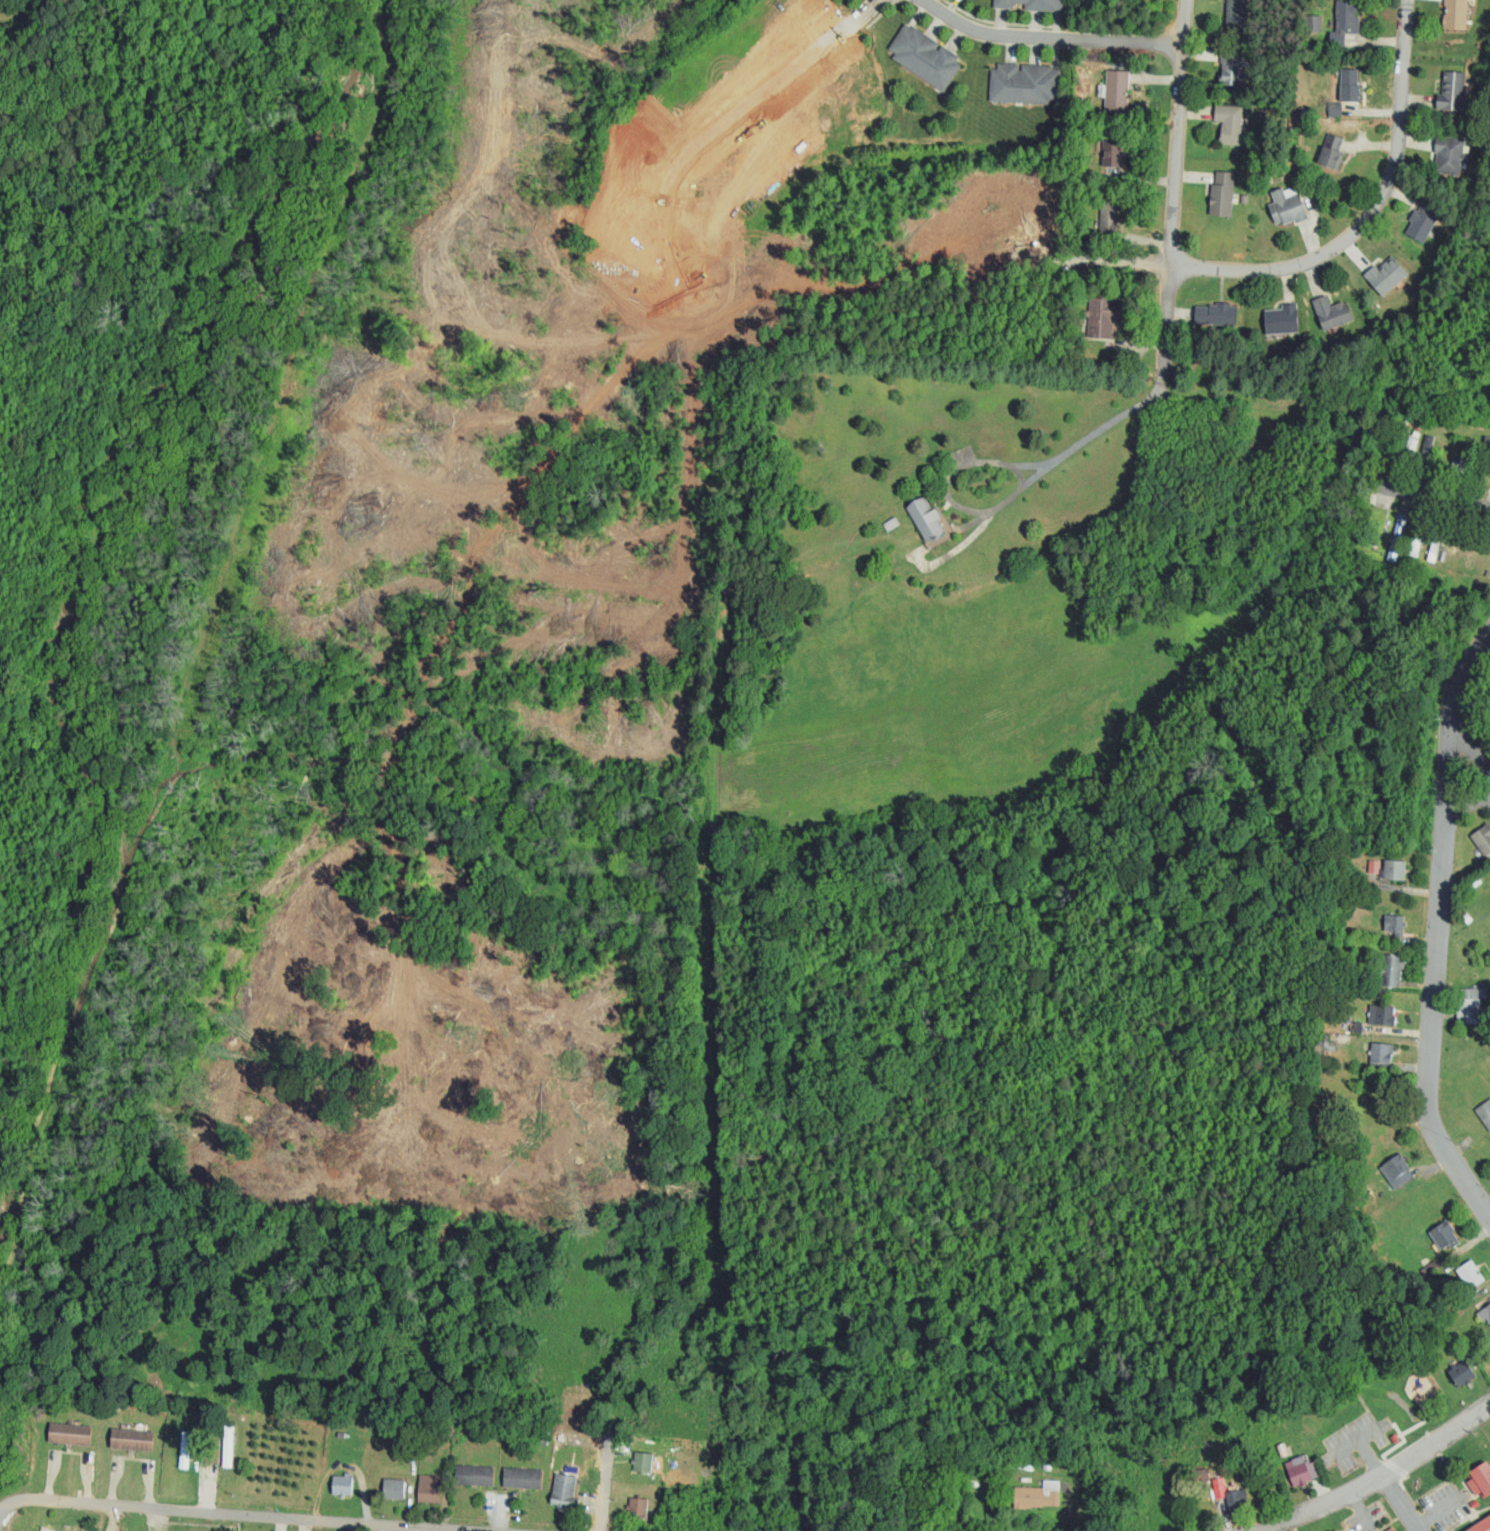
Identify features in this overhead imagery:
building: (1030, 4)
building: (1346, 14)
building: (1454, 14)
building: (1237, 15)
building: (1314, 23)
road: (1048, 39)
building: (924, 57)
building: (1235, 67)
building: (1024, 84)
building: (1349, 84)
building: (1117, 91)
building: (1451, 92)
road: (732, 124)
building: (1230, 124)
building: (1112, 150)
building: (1330, 150)
building: (1449, 154)
road: (1176, 190)
building: (1222, 194)
building: (1287, 207)
road: (1371, 212)
building: (1109, 221)
building: (1422, 223)
building: (1386, 276)
building: (1332, 313)
building: (1217, 314)
building: (1102, 316)
building: (1281, 320)
building: (1263, 445)
building: (1408, 450)
building: (1426, 452)
building: (1462, 459)
road: (1000, 462)
building: (1483, 462)
road: (1440, 497)
building: (926, 519)
building: (889, 524)
building: (1397, 536)
building: (1416, 537)
building: (1434, 543)
road: (1471, 751)
road: (1467, 800)
building: (1481, 839)
building: (1394, 871)
building: (1394, 924)
road: (1437, 931)
building: (1392, 971)
building: (1470, 1004)
building: (1381, 1015)
building: (1380, 1054)
building: (1485, 1113)
building: (1397, 1166)
building: (1445, 1236)
building: (1470, 1273)
building: (1484, 1312)
building: (1460, 1372)
building: (68, 1433)
building: (131, 1439)
road: (1362, 1440)
building: (227, 1446)
building: (184, 1450)
building: (643, 1460)
building: (1299, 1474)
building: (474, 1476)
building: (1481, 1477)
road: (1379, 1478)
building: (522, 1479)
building: (342, 1485)
building: (393, 1489)
road: (204, 1490)
building: (565, 1491)
building: (429, 1493)
road: (602, 1494)
building: (1028, 1497)
building: (1234, 1499)
road: (1400, 1504)
building: (638, 1507)
road: (1359, 1510)
road: (1438, 1510)
road: (206, 1512)
building: (1480, 1524)
building: (1389, 1529)
building: (1333, 1530)
building: (1336, 1530)

